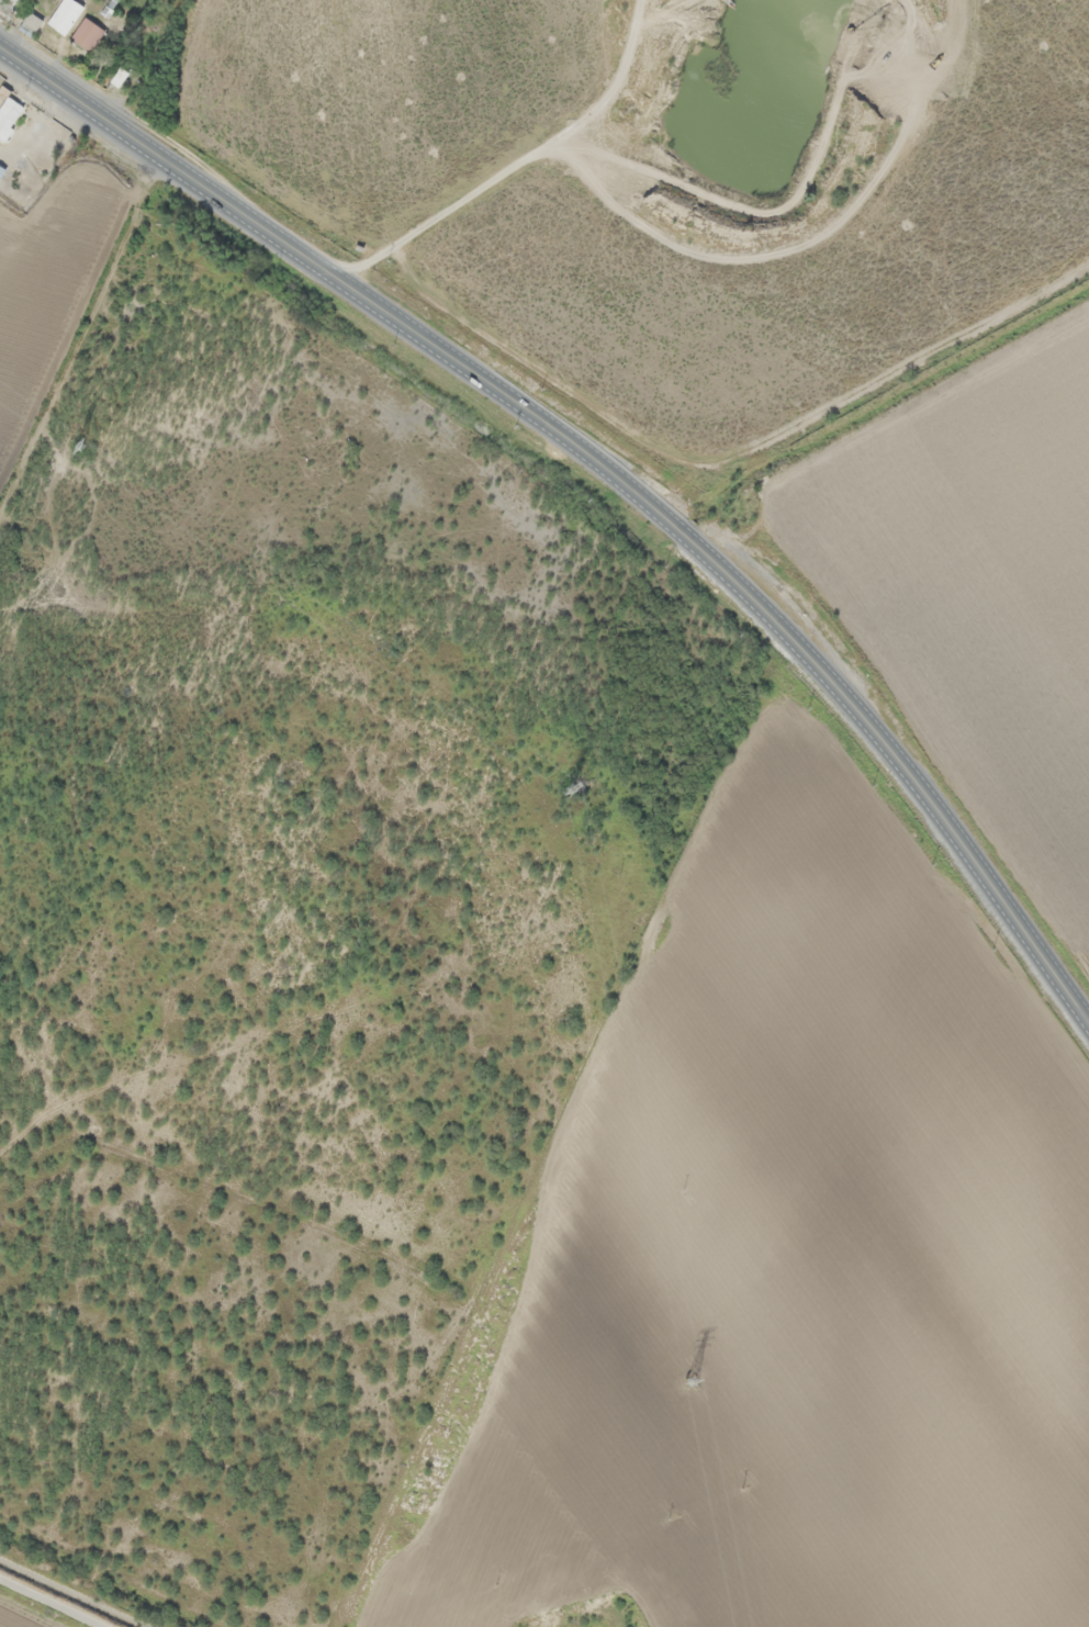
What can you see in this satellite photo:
power tower: (89, 450)
road: (605, 463)
power tower: (580, 792)
power tower: (700, 1387)

